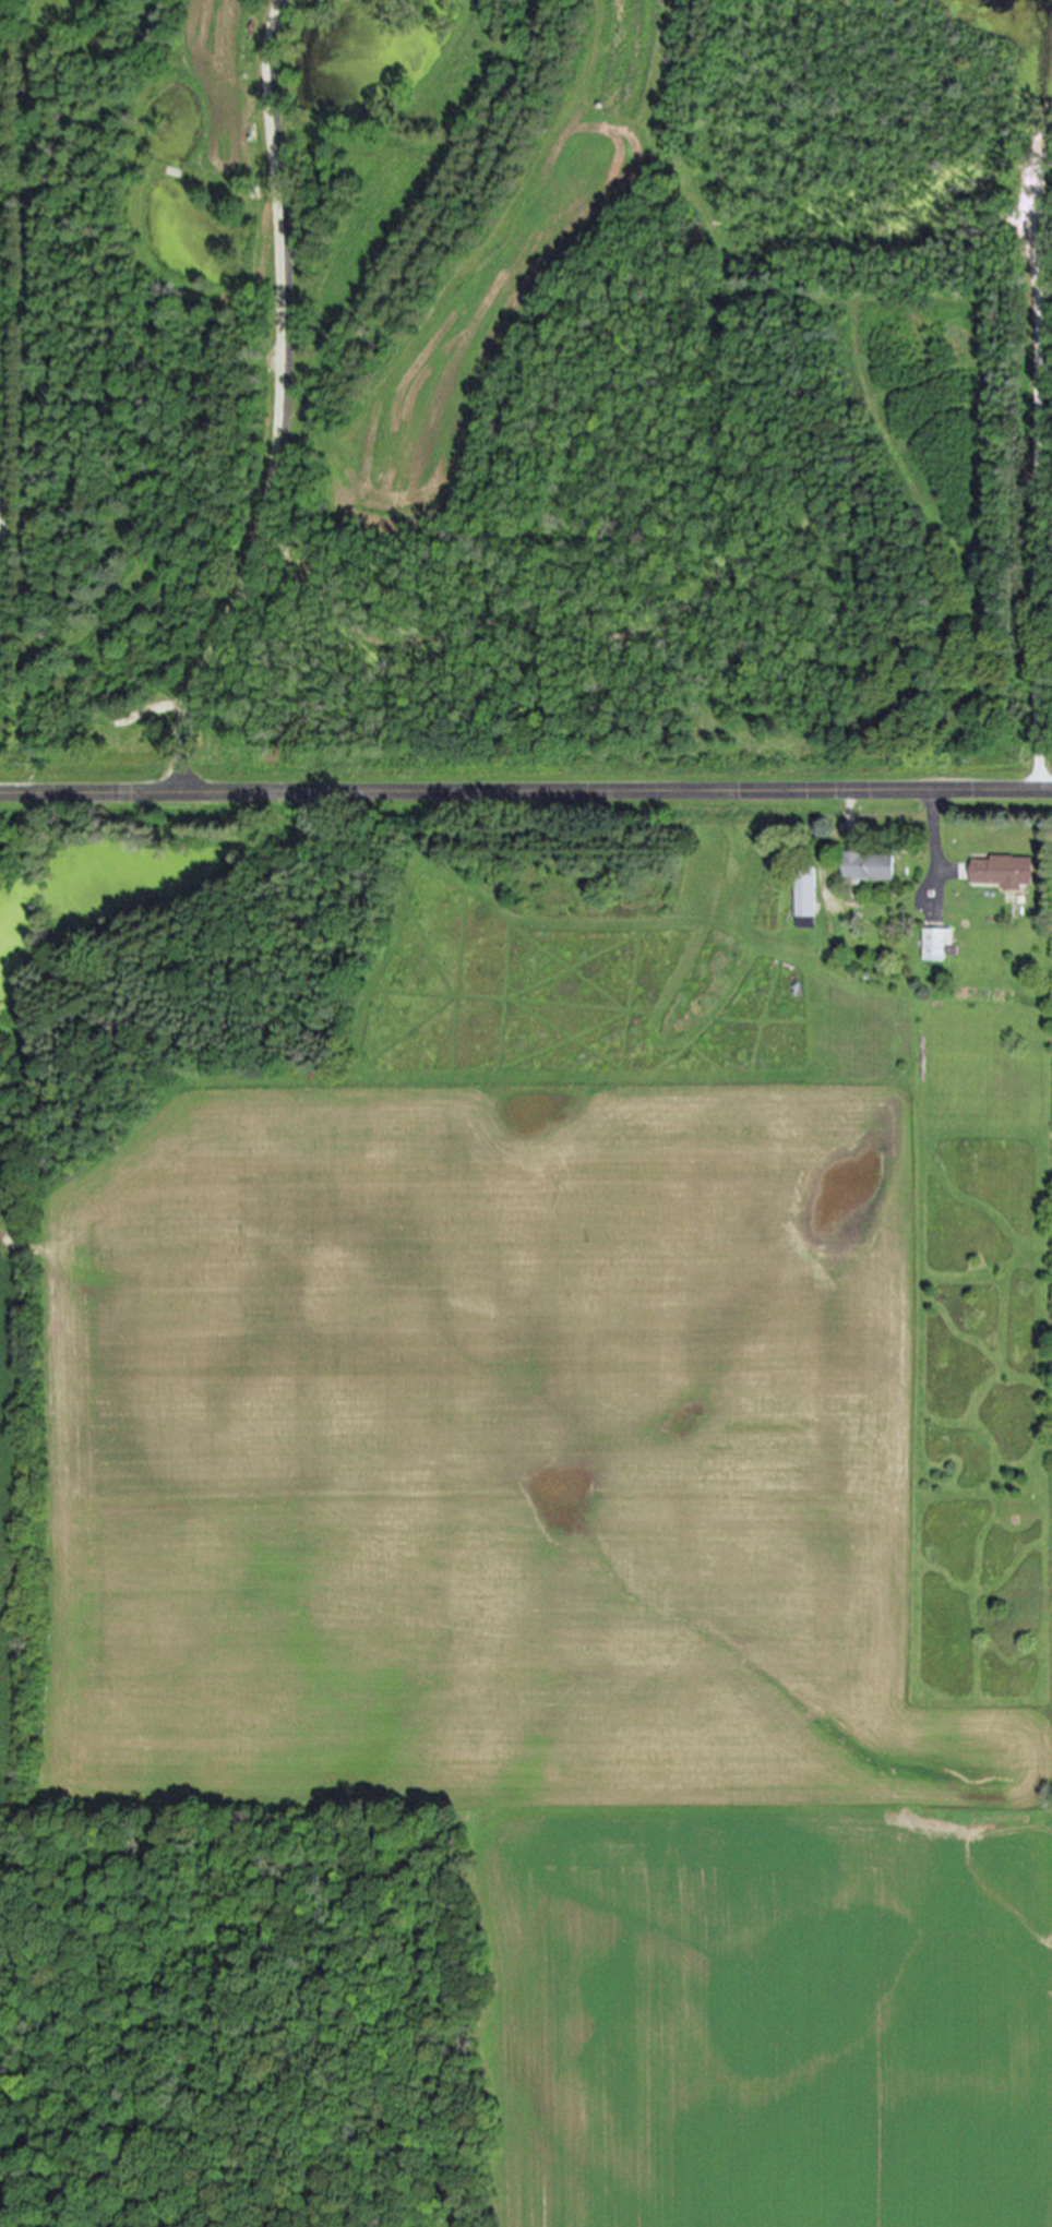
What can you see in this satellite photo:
road: (282, 404)
road: (1033, 463)
road: (7, 506)
road: (525, 791)
road: (935, 847)
building: (1002, 873)
building: (805, 899)
building: (935, 944)

